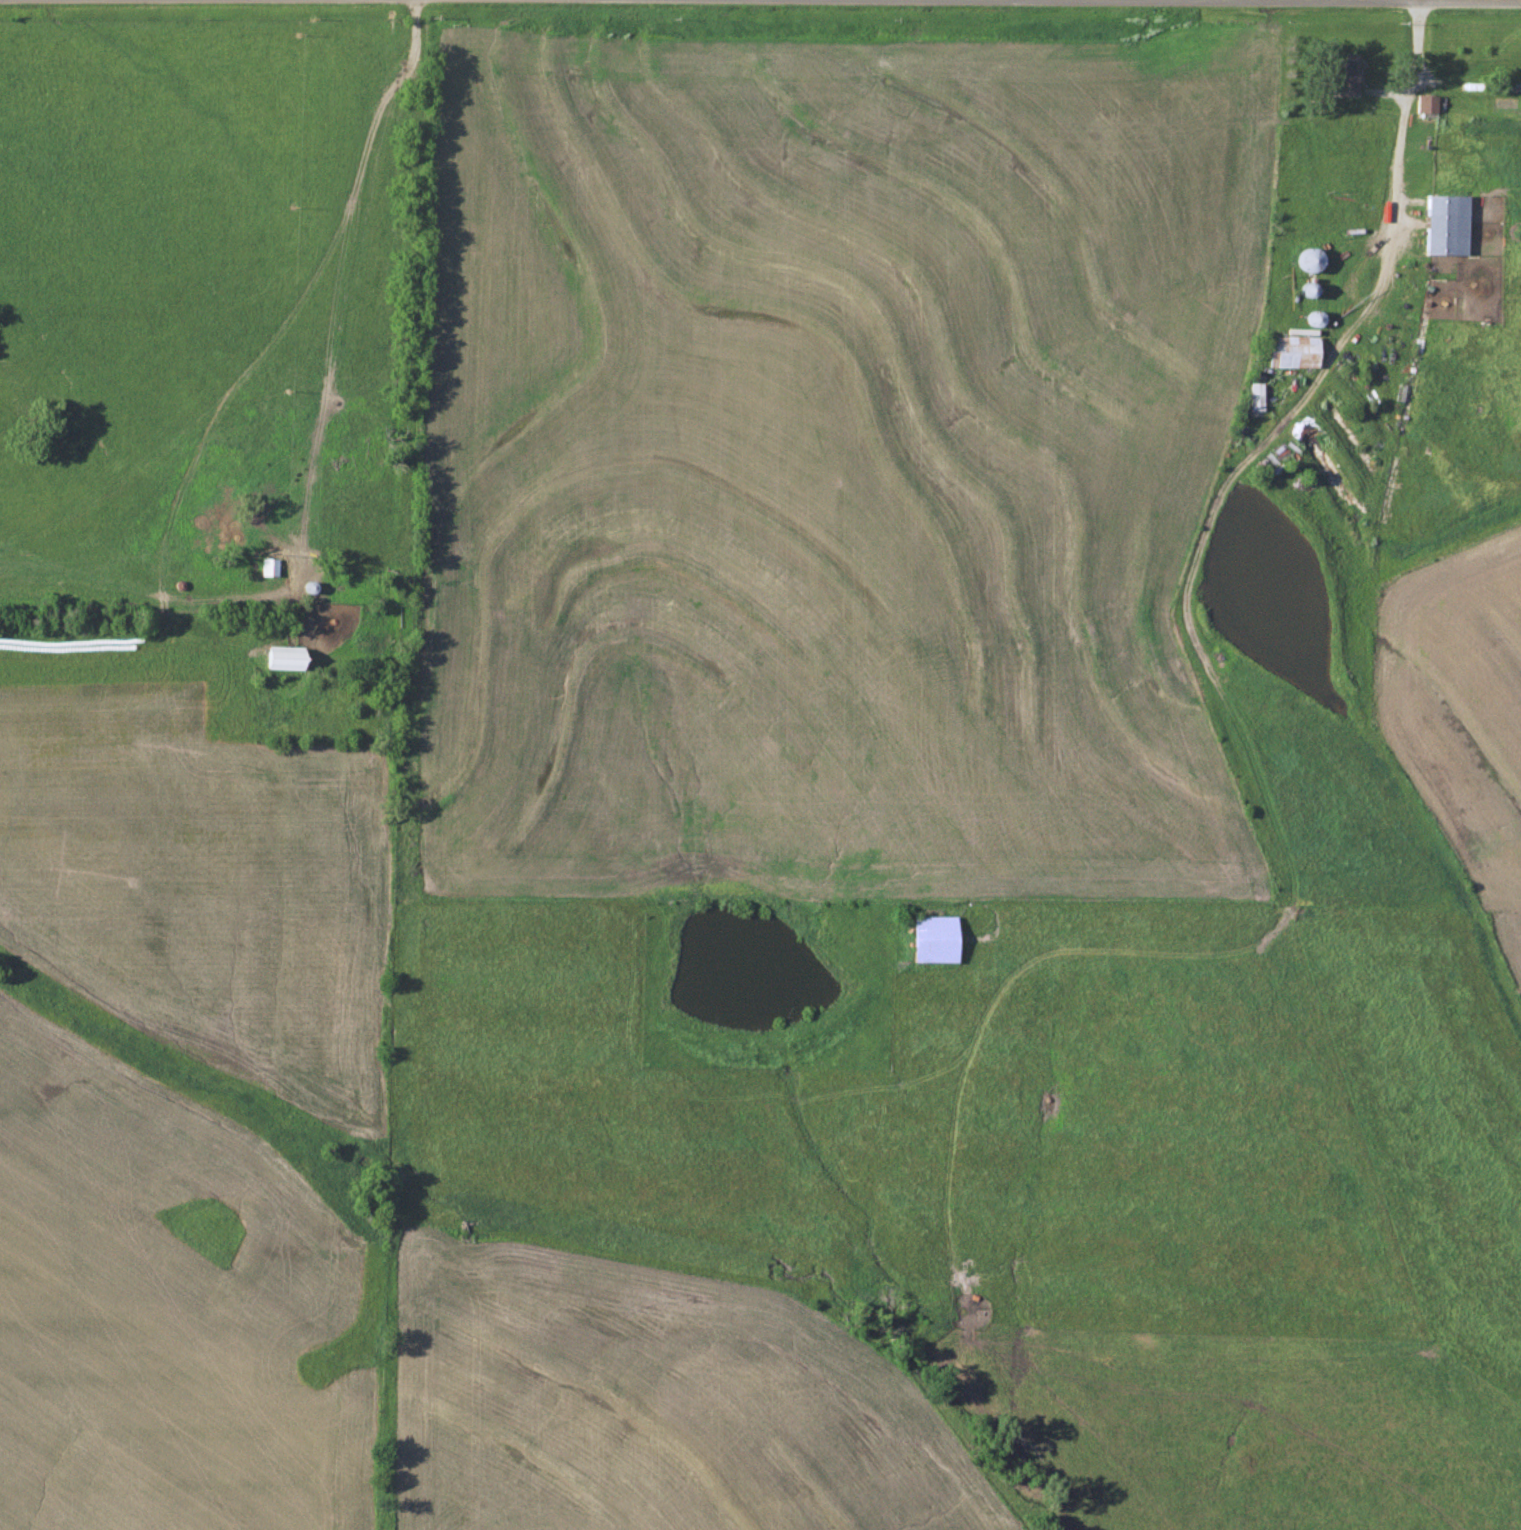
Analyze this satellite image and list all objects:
building: (1441, 225)
building: (1288, 352)
building: (265, 567)
building: (278, 658)
building: (914, 926)

